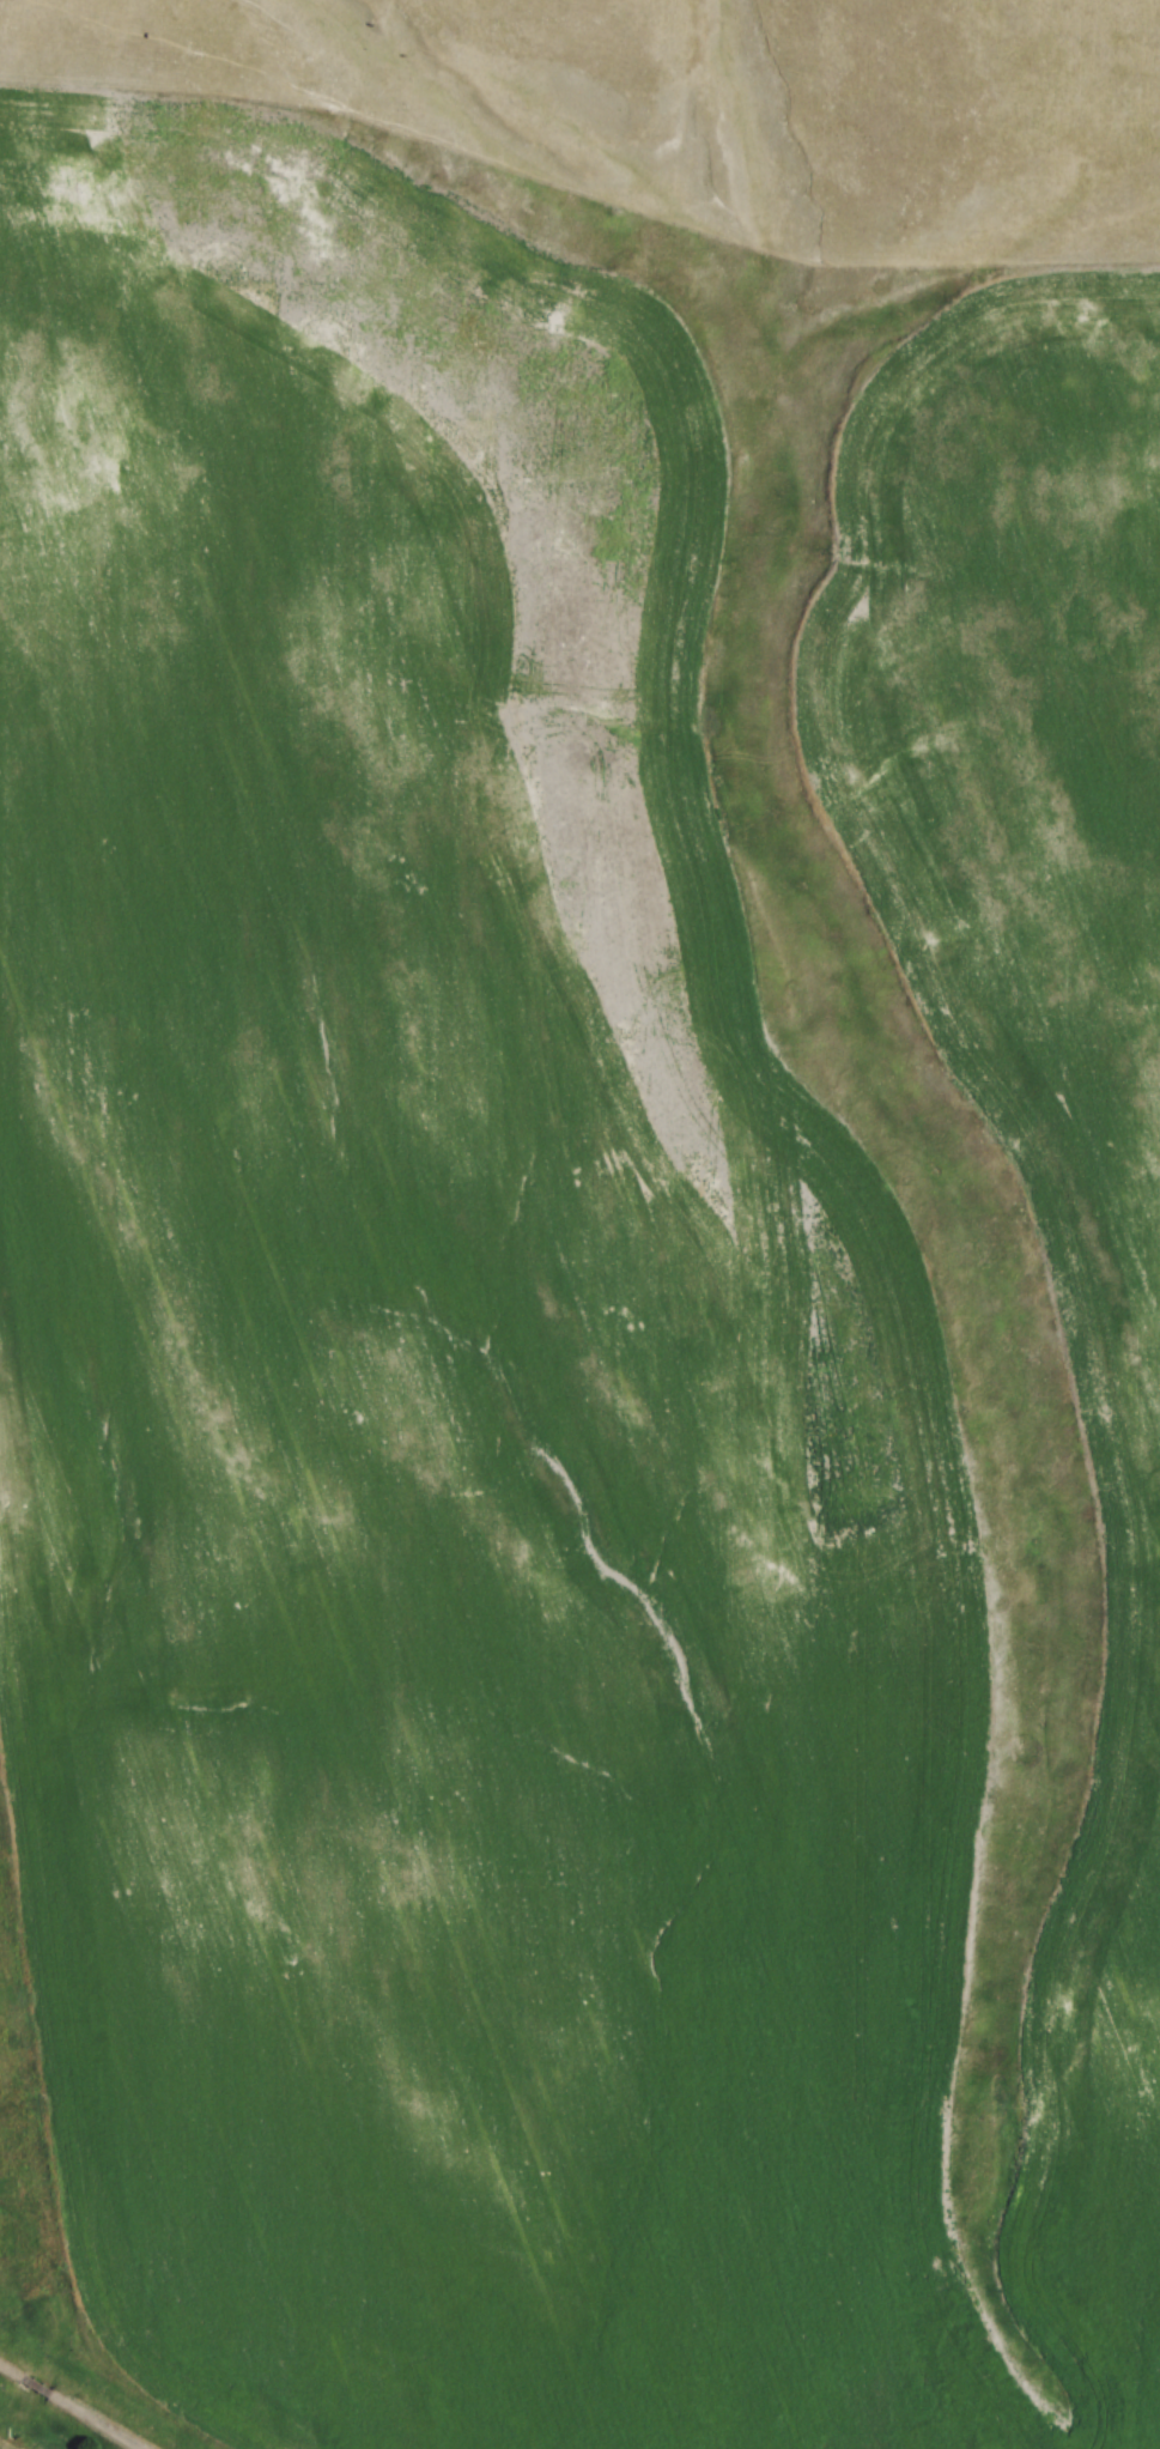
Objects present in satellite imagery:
road: (8, 2365)
road: (30, 2378)
road: (96, 2418)

